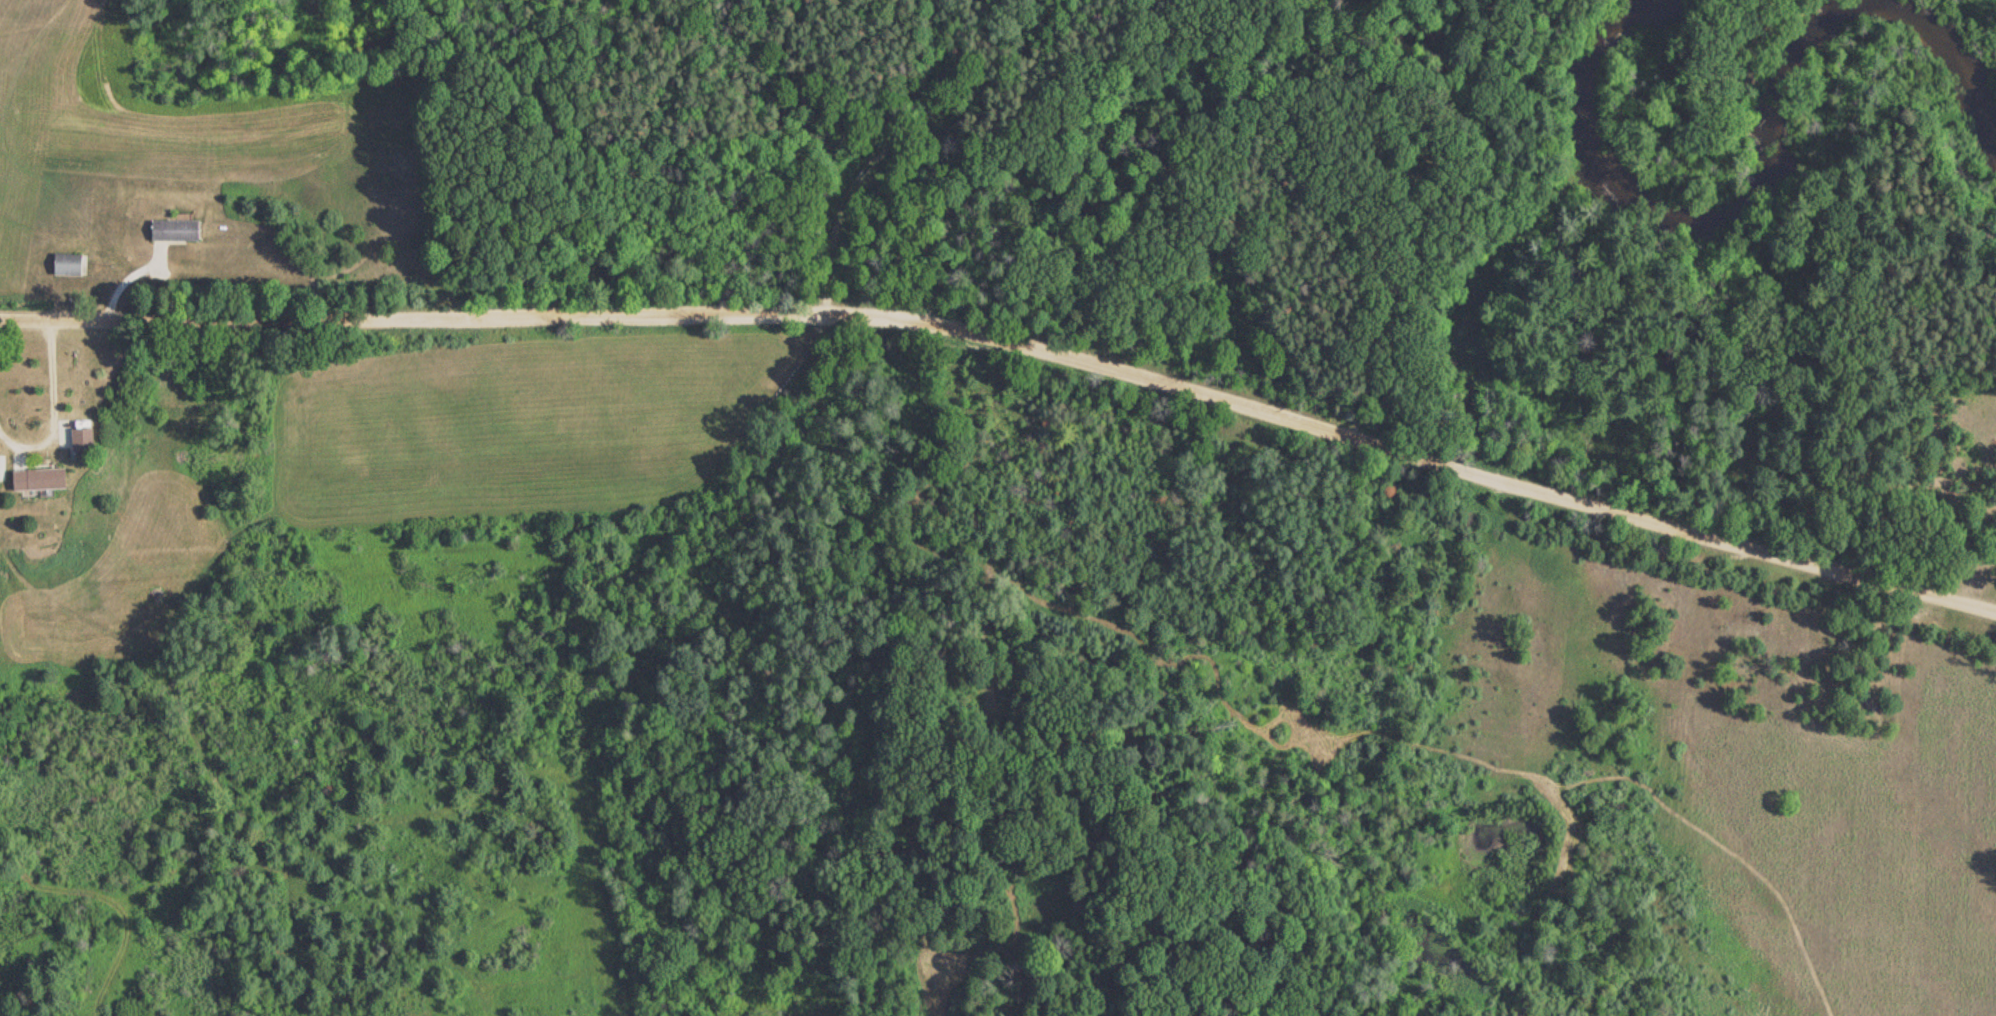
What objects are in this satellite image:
crop: (105, 122)
river: (1771, 166)
building: (172, 229)
building: (67, 264)
road: (1015, 321)
building: (72, 440)
building: (35, 479)

